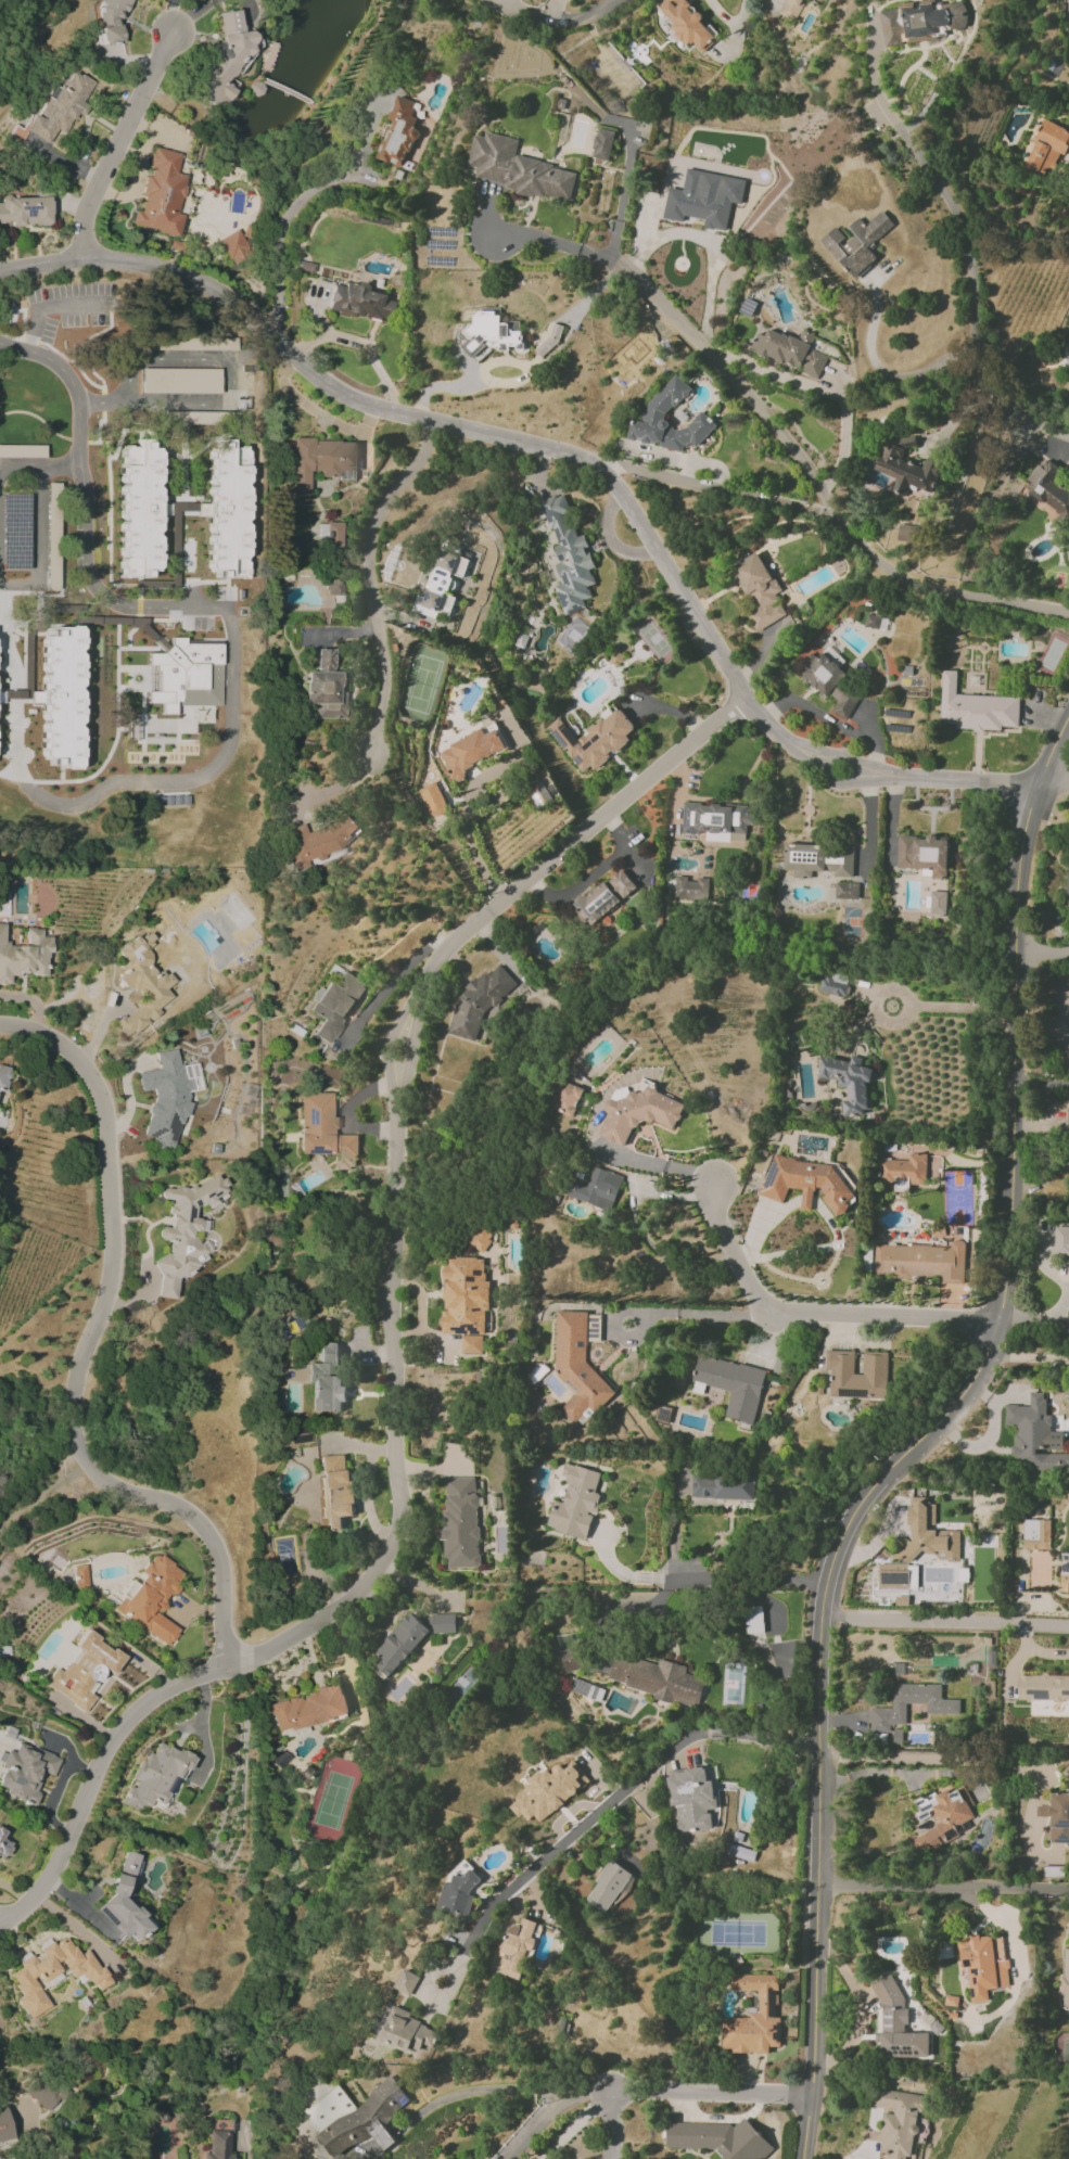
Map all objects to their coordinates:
building: (792, 9)
road: (590, 13)
road: (173, 15)
building: (687, 23)
building: (226, 59)
building: (59, 110)
road: (901, 131)
building: (398, 133)
road: (119, 143)
building: (602, 143)
building: (1046, 148)
building: (518, 168)
road: (625, 179)
building: (161, 194)
building: (704, 197)
road: (295, 200)
building: (25, 210)
building: (857, 243)
building: (234, 246)
building: (360, 302)
road: (976, 331)
building: (489, 333)
road: (250, 344)
building: (1067, 347)
building: (790, 350)
road: (712, 356)
road: (529, 368)
building: (180, 381)
road: (233, 385)
road: (453, 385)
road: (825, 386)
road: (958, 410)
road: (317, 411)
building: (656, 412)
road: (1040, 422)
building: (22, 451)
building: (319, 461)
road: (586, 462)
road: (61, 467)
building: (905, 467)
building: (1047, 487)
road: (715, 488)
building: (139, 510)
building: (227, 510)
road: (82, 513)
road: (40, 521)
building: (52, 532)
building: (907, 533)
building: (334, 535)
road: (609, 538)
building: (568, 557)
road: (371, 579)
building: (442, 584)
building: (333, 587)
building: (759, 590)
road: (968, 595)
building: (187, 677)
building: (830, 682)
building: (324, 685)
building: (1, 697)
building: (61, 698)
building: (976, 707)
road: (831, 720)
building: (593, 739)
building: (471, 751)
road: (124, 782)
road: (464, 800)
building: (432, 801)
building: (715, 819)
building: (318, 840)
building: (922, 855)
building: (818, 859)
road: (593, 873)
building: (1067, 883)
building: (690, 887)
building: (845, 891)
building: (603, 896)
building: (938, 902)
road: (1041, 953)
building: (24, 956)
building: (142, 983)
building: (833, 984)
road: (909, 1000)
building: (335, 1005)
building: (3, 1077)
building: (850, 1082)
building: (165, 1099)
building: (565, 1099)
building: (636, 1110)
building: (324, 1130)
building: (1068, 1153)
building: (903, 1171)
building: (804, 1183)
road: (636, 1188)
building: (596, 1189)
building: (184, 1232)
building: (1061, 1240)
building: (921, 1261)
building: (466, 1303)
road: (653, 1312)
road: (812, 1314)
road: (1035, 1318)
building: (593, 1328)
road: (395, 1333)
road: (89, 1353)
road: (1028, 1357)
building: (576, 1365)
building: (857, 1375)
building: (327, 1380)
building: (730, 1384)
park: (131, 1416)
building: (1032, 1435)
road: (925, 1438)
building: (723, 1485)
building: (335, 1491)
road: (46, 1495)
building: (575, 1502)
building: (459, 1522)
building: (929, 1533)
building: (1036, 1534)
road: (622, 1572)
building: (1064, 1572)
building: (78, 1575)
road: (751, 1579)
building: (152, 1598)
building: (753, 1620)
road: (945, 1621)
building: (410, 1637)
building: (568, 1652)
building: (84, 1671)
building: (656, 1678)
building: (1043, 1687)
building: (308, 1709)
building: (887, 1710)
road: (202, 1728)
road: (951, 1758)
building: (25, 1772)
road: (889, 1772)
building: (157, 1776)
building: (549, 1791)
building: (690, 1799)
road: (605, 1807)
building: (942, 1816)
building: (1059, 1818)
building: (3, 1845)
building: (740, 1852)
road: (943, 1883)
building: (607, 1887)
building: (460, 1888)
building: (126, 1900)
building: (514, 1947)
building: (983, 1965)
building: (53, 1973)
building: (1065, 1979)
building: (407, 1981)
building: (752, 2018)
building: (896, 2023)
building: (404, 2029)
road: (495, 2088)
building: (43, 2093)
road: (712, 2094)
building: (355, 2117)
road: (558, 2117)
building: (898, 2122)
road: (612, 2125)
building: (5, 2126)
road: (40, 2135)
road: (385, 2138)
building: (718, 2138)
building: (219, 2146)
road: (372, 2150)
road: (60, 2157)

